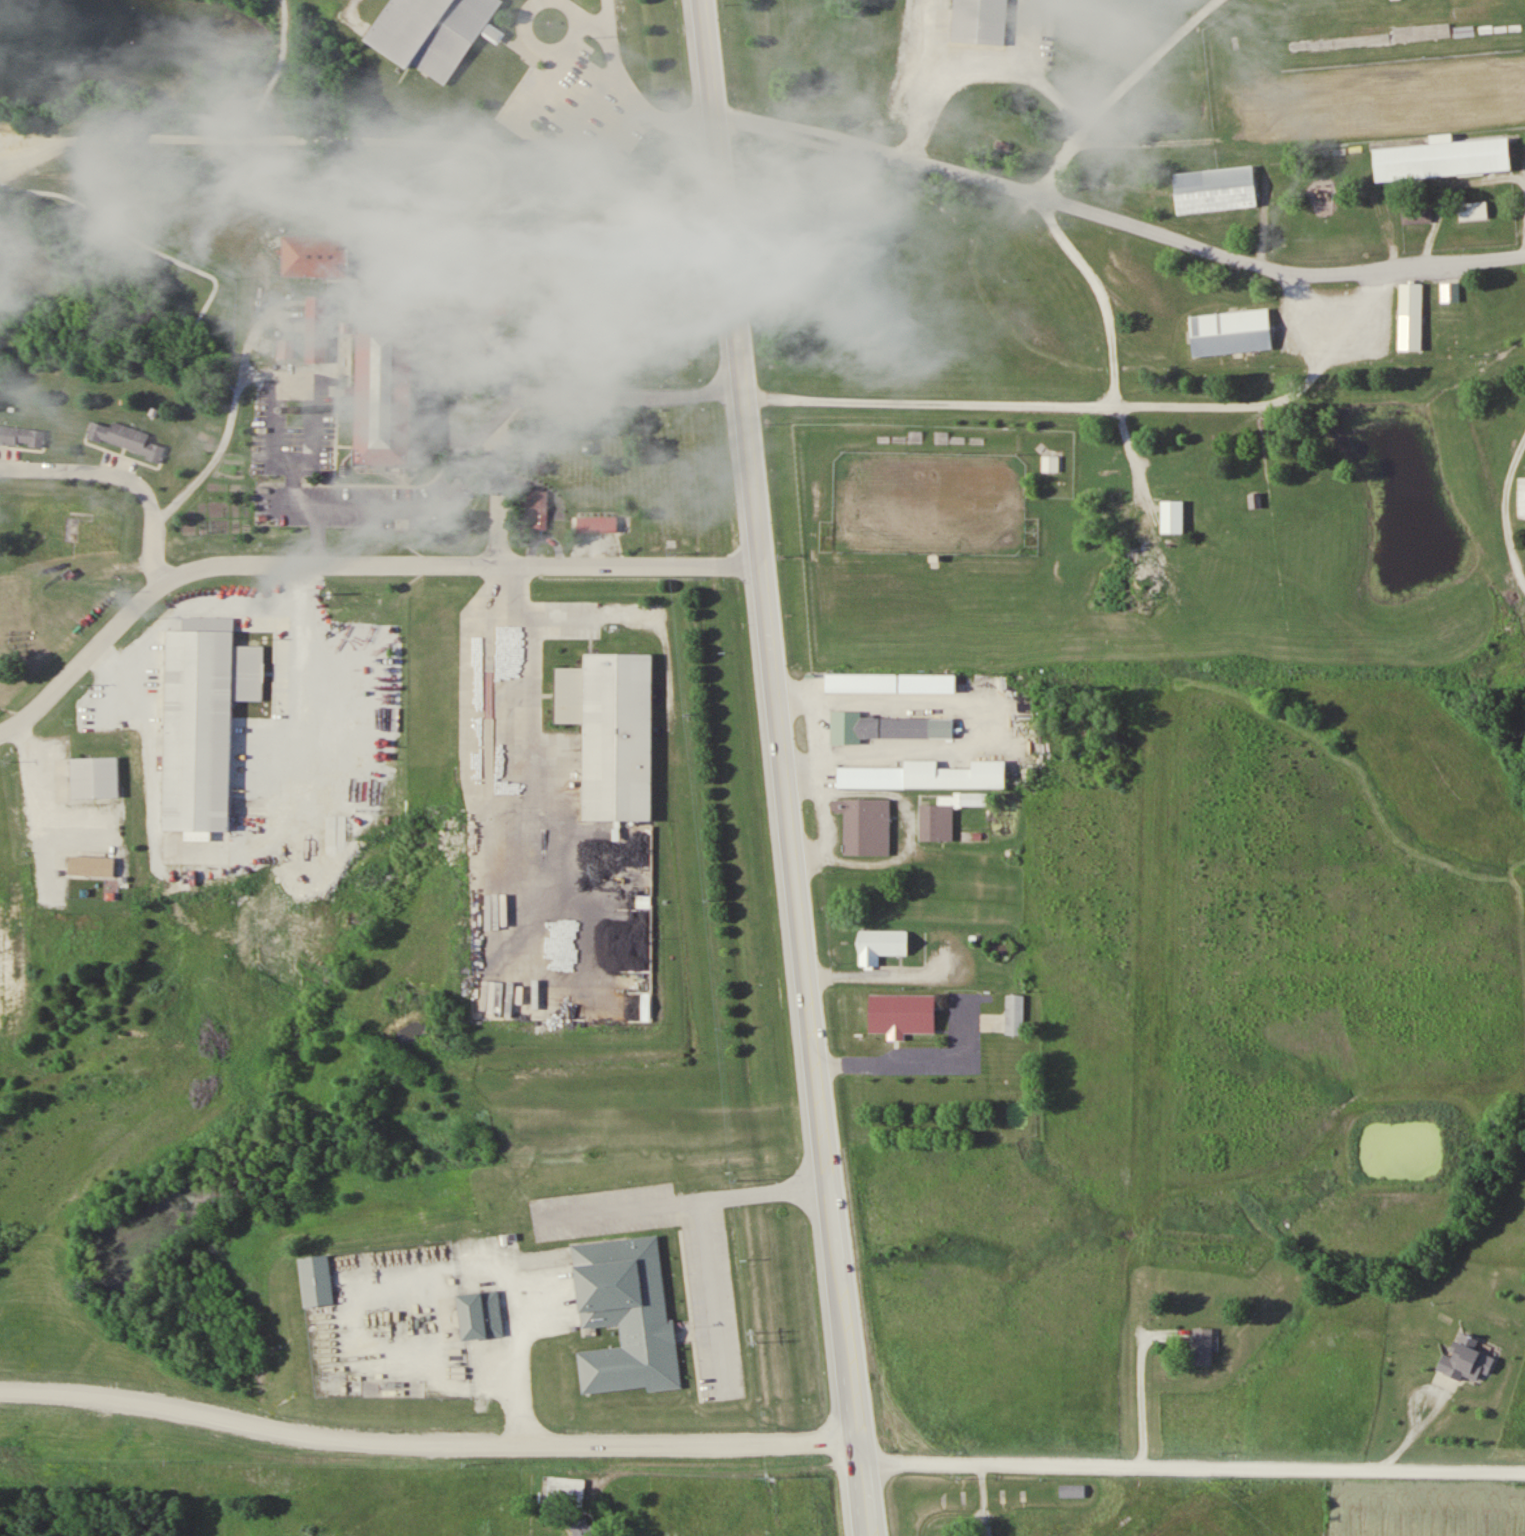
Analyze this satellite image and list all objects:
building: (980, 15)
road: (583, 16)
building: (1475, 16)
building: (1422, 31)
building: (433, 32)
road: (542, 48)
road: (1116, 88)
road: (626, 93)
parking lot: (573, 118)
road: (326, 138)
building: (1443, 157)
building: (1214, 189)
building: (1476, 204)
road: (1116, 211)
building: (1416, 214)
building: (340, 222)
park: (131, 246)
building: (317, 255)
park: (582, 270)
park: (485, 273)
building: (1450, 291)
building: (1413, 307)
road: (735, 312)
building: (317, 328)
building: (1231, 332)
building: (387, 391)
road: (435, 395)
road: (561, 395)
road: (309, 402)
road: (1087, 405)
building: (21, 429)
building: (130, 431)
building: (915, 436)
building: (941, 437)
building: (1050, 463)
road: (121, 474)
building: (1114, 488)
building: (1523, 489)
building: (1255, 501)
road: (417, 506)
building: (538, 508)
building: (1172, 516)
building: (596, 523)
road: (316, 534)
road: (282, 563)
road: (695, 564)
building: (895, 680)
building: (570, 694)
building: (205, 717)
building: (881, 724)
building: (618, 737)
building: (957, 768)
building: (96, 769)
building: (873, 770)
building: (250, 806)
building: (937, 815)
building: (864, 824)
building: (97, 858)
building: (878, 937)
road: (812, 989)
building: (904, 1006)
building: (1017, 1006)
road: (686, 1203)
parking lot: (604, 1212)
building: (324, 1273)
road: (712, 1298)
building: (483, 1307)
parking lot: (714, 1313)
road: (689, 1316)
building: (626, 1318)
road: (684, 1336)
building: (1202, 1344)
building: (1466, 1357)
road: (1416, 1431)
road: (430, 1441)
road: (865, 1444)
road: (1196, 1464)
building: (569, 1484)
building: (1072, 1491)
building: (582, 1527)

